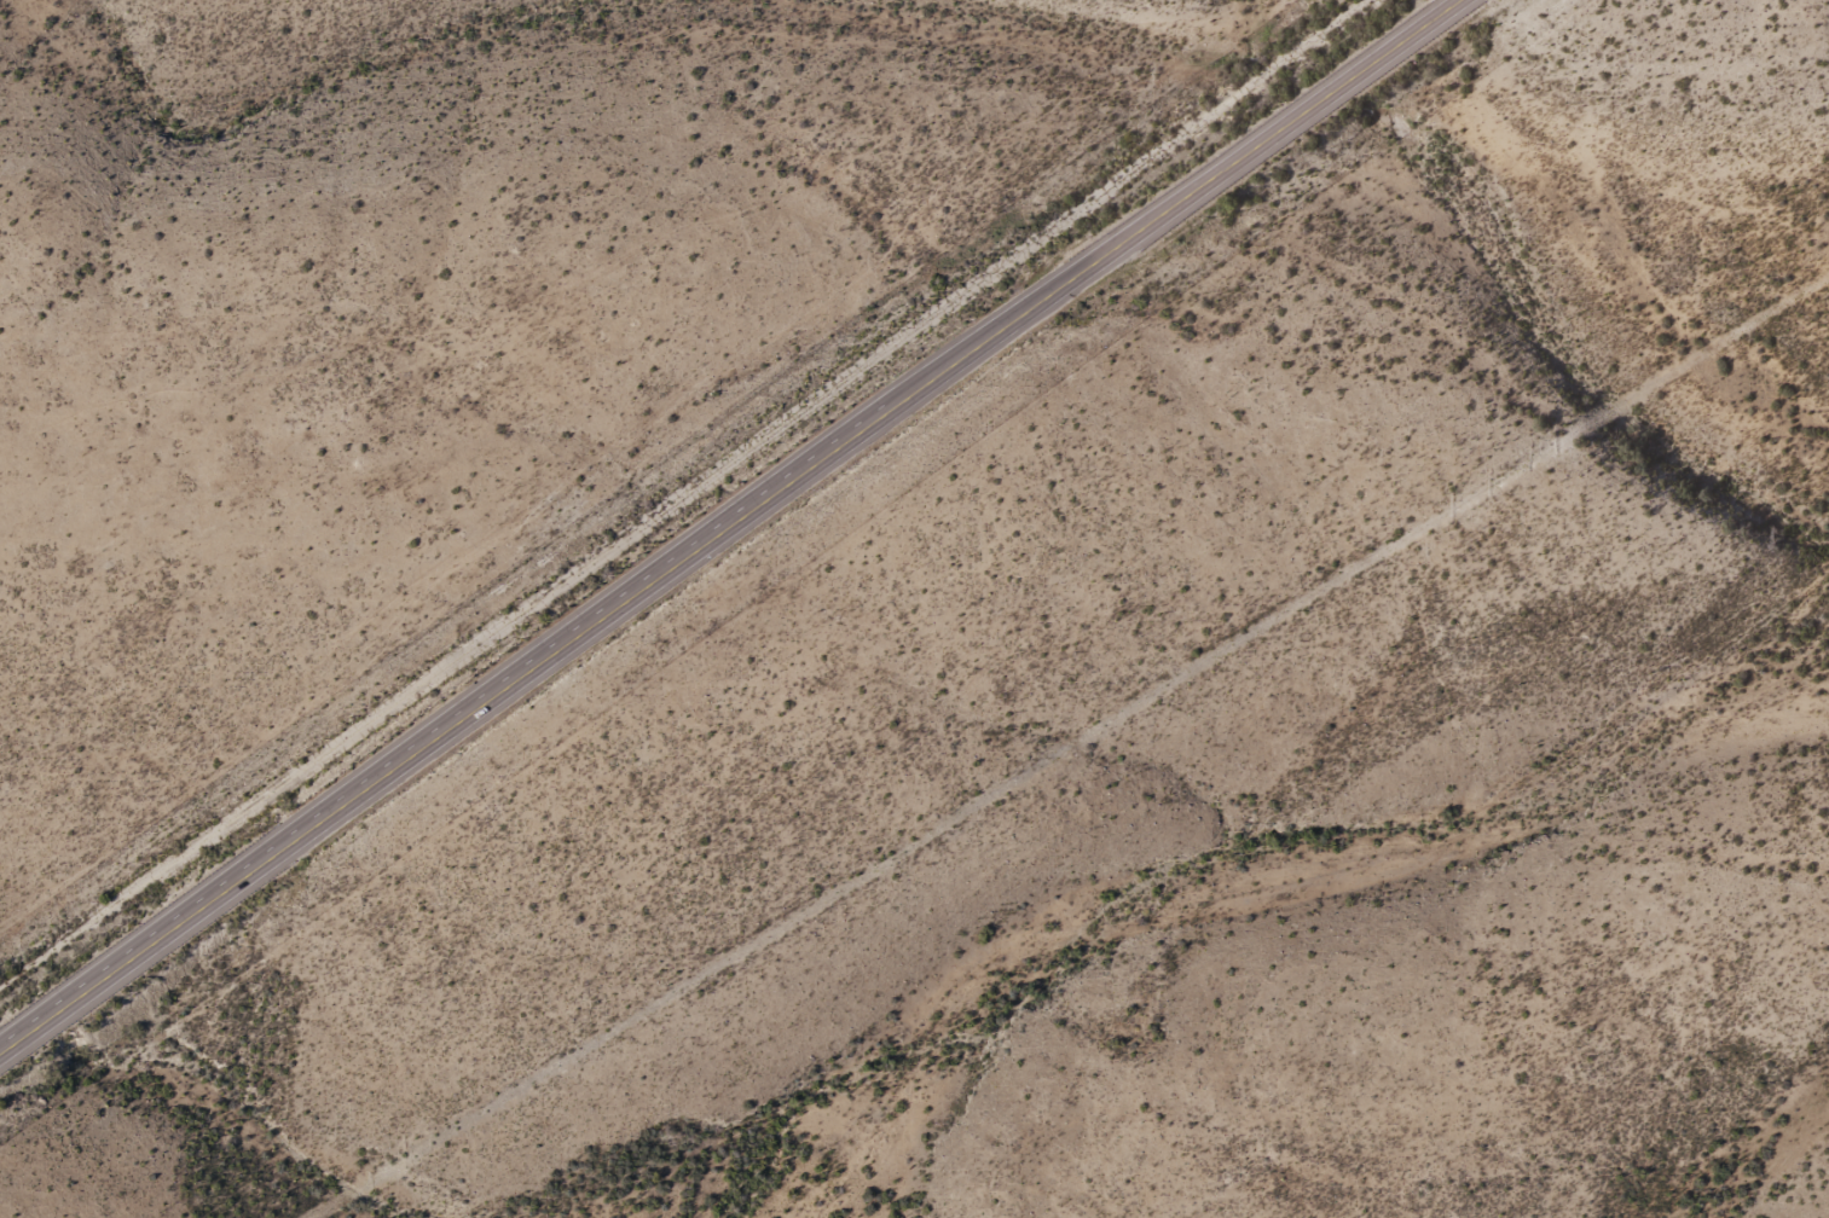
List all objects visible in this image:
road: (1180, 203)
road: (451, 727)

